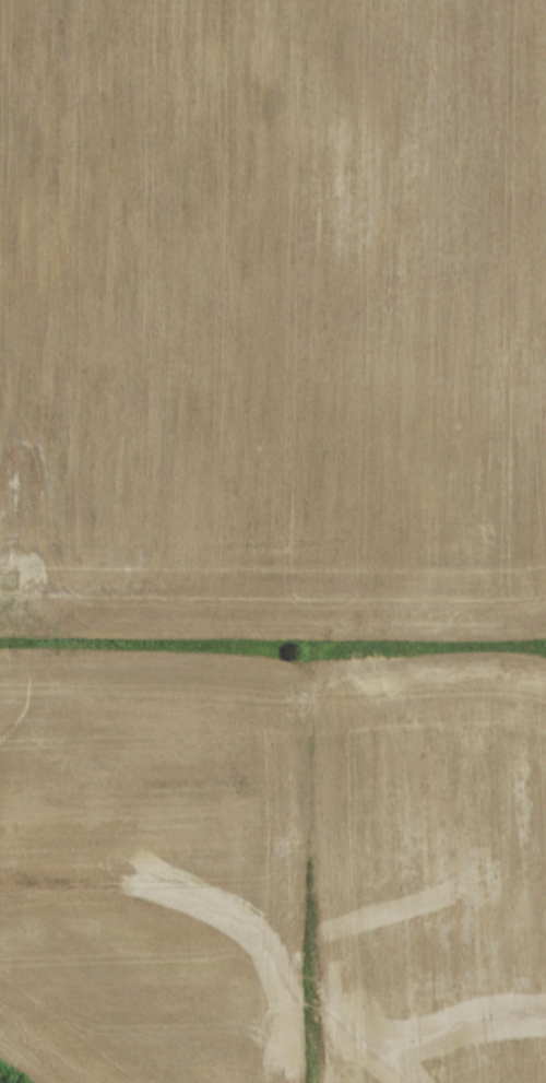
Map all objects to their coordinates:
crop: (272, 869)

